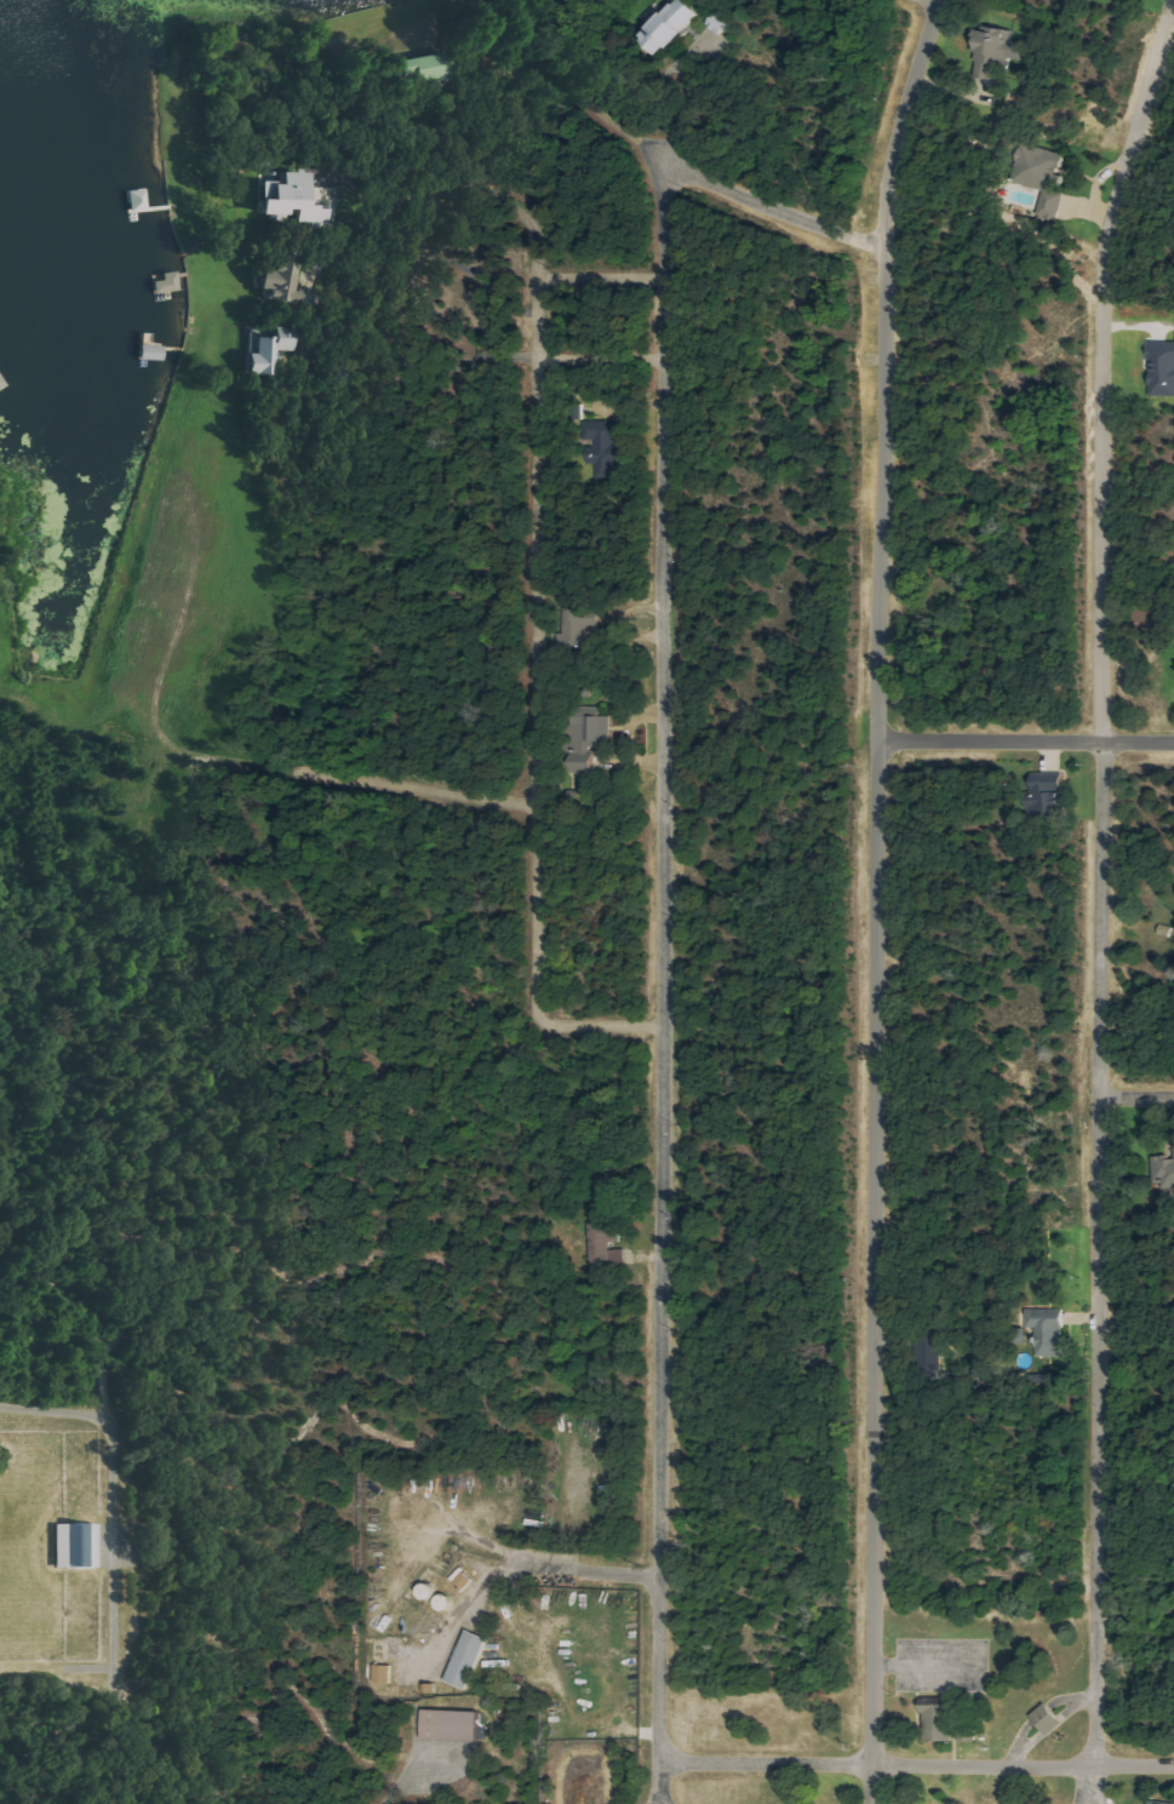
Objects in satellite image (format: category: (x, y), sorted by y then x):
building: (721, 23)
building: (671, 25)
building: (998, 51)
building: (426, 68)
building: (1044, 176)
building: (296, 201)
building: (167, 282)
building: (284, 284)
building: (273, 350)
building: (1162, 368)
building: (608, 445)
building: (579, 628)
road: (537, 689)
building: (592, 740)
road: (1024, 740)
road: (413, 785)
building: (1048, 795)
road: (660, 872)
road: (1101, 877)
road: (875, 898)
road: (1136, 1096)
building: (1173, 1144)
building: (1163, 1170)
building: (607, 1242)
building: (1048, 1329)
building: (76, 1545)
building: (469, 1659)
building: (383, 1673)
building: (1048, 1718)
building: (939, 1722)
building: (452, 1725)
road: (915, 1764)

